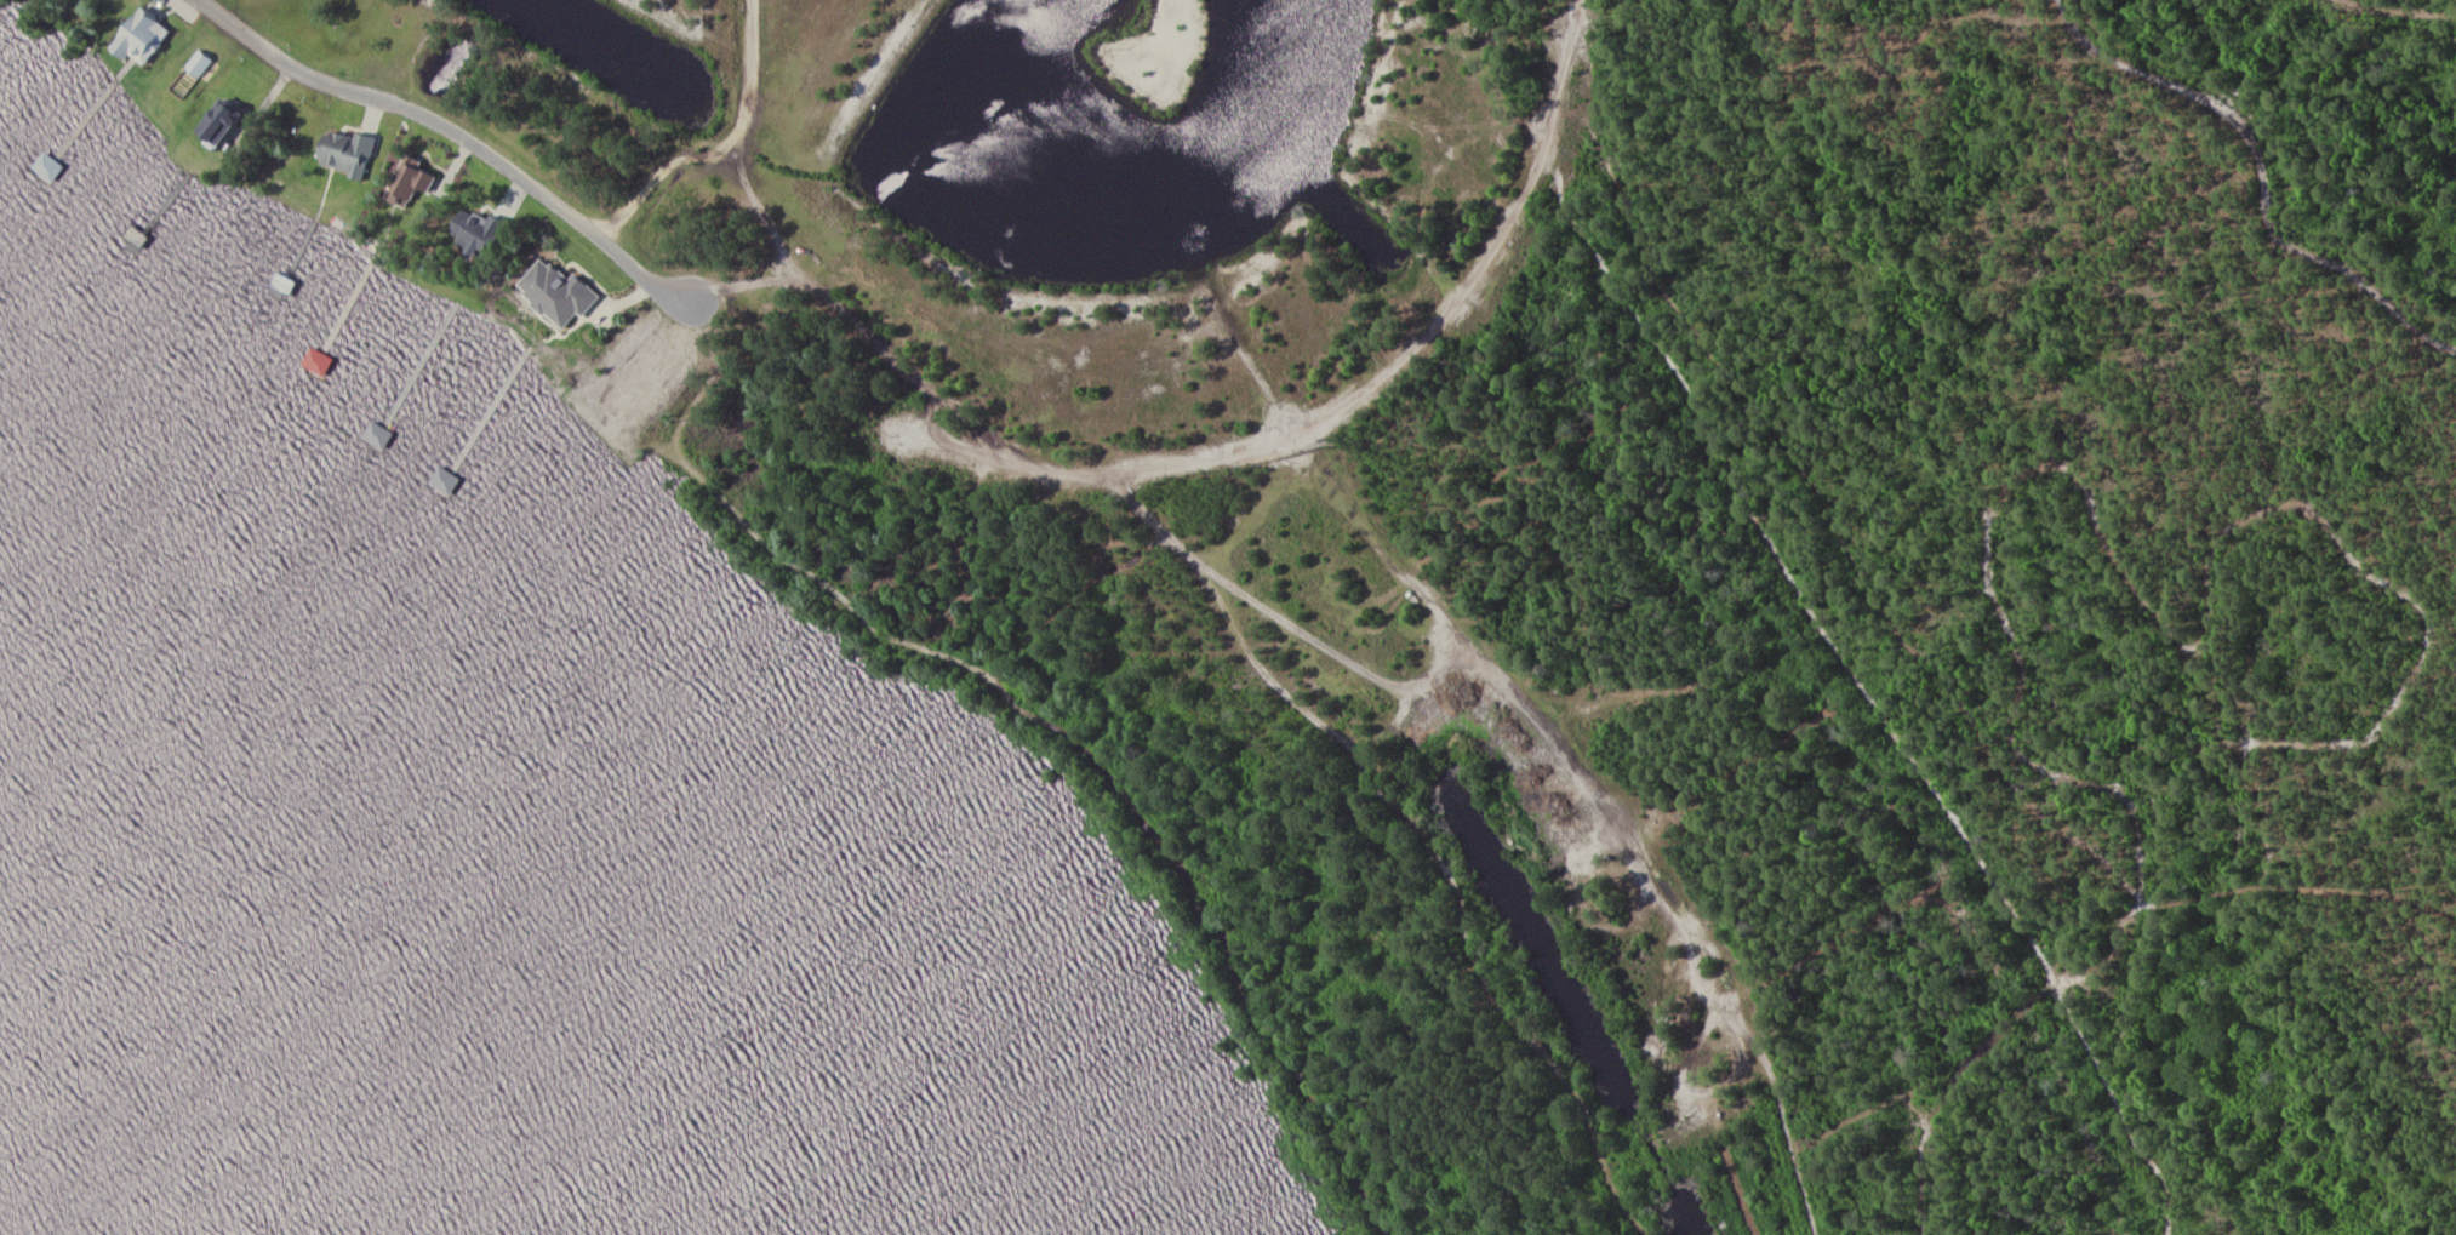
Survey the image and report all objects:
building: (139, 38)
building: (219, 125)
road: (455, 133)
building: (344, 153)

